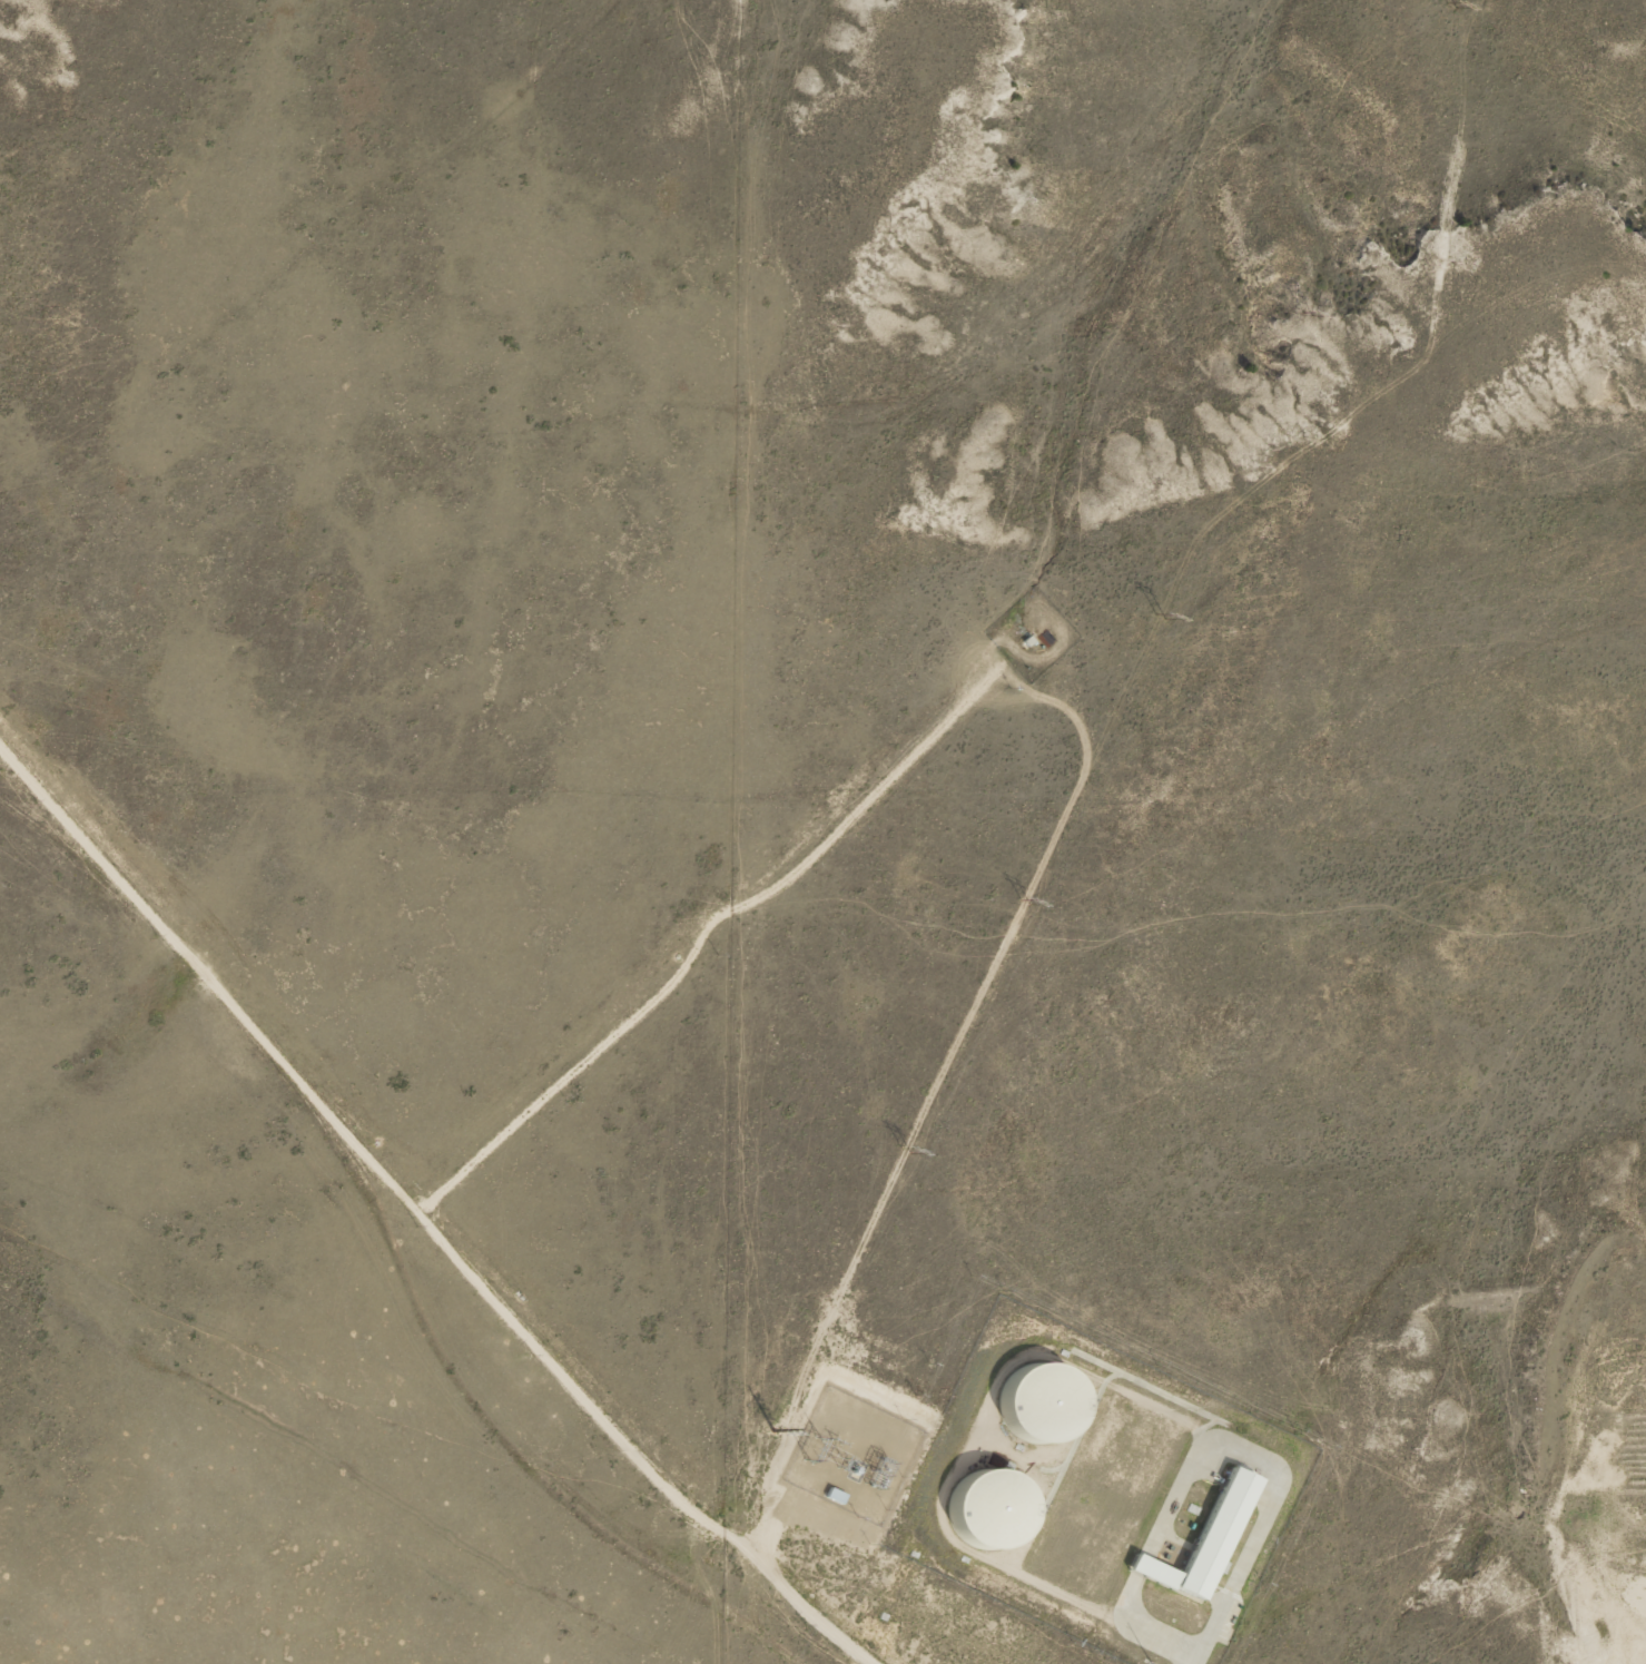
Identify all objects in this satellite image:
power tower: (1435, 8)
power tower: (1145, 603)
power tower: (1025, 885)
power tower: (900, 1149)
road: (367, 1249)
power tower: (771, 1430)
power substation: (852, 1456)
building: (1200, 1539)

